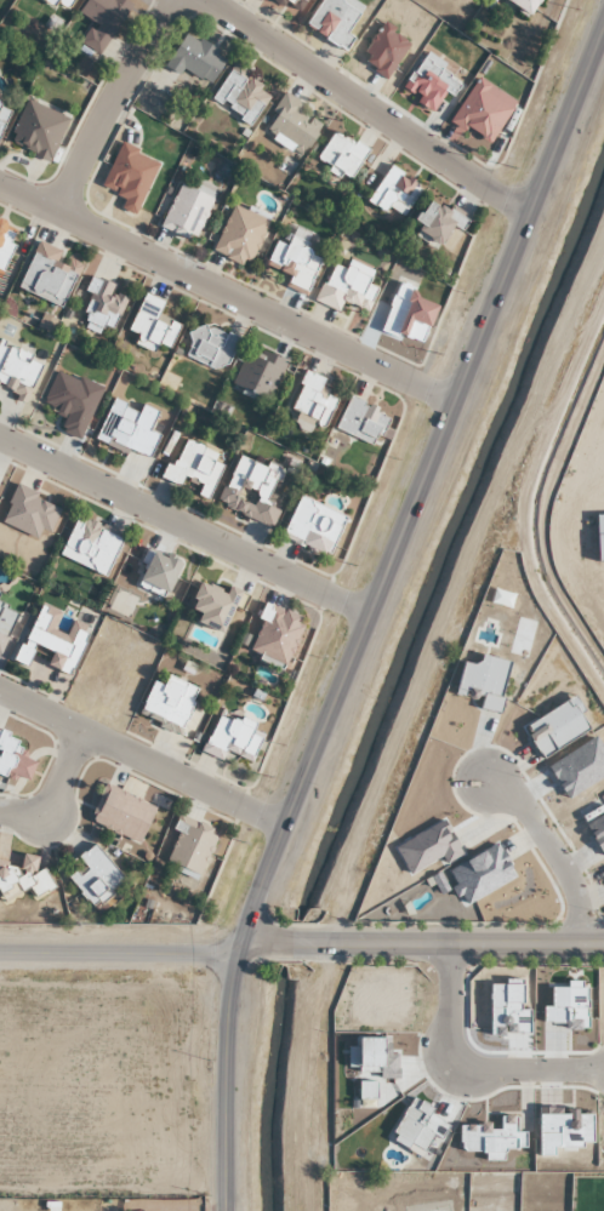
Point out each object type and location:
building: (291, 2)
building: (59, 4)
building: (519, 6)
building: (101, 21)
building: (334, 21)
building: (383, 51)
building: (194, 59)
building: (239, 95)
road: (97, 104)
road: (365, 104)
building: (480, 112)
building: (2, 115)
building: (289, 125)
building: (35, 131)
building: (340, 155)
building: (129, 177)
building: (393, 193)
building: (184, 212)
building: (435, 222)
building: (239, 236)
building: (6, 241)
building: (292, 264)
building: (47, 275)
building: (344, 286)
road: (228, 291)
building: (101, 304)
building: (408, 315)
building: (150, 325)
building: (209, 347)
building: (17, 367)
building: (257, 371)
building: (310, 398)
building: (69, 401)
building: (360, 421)
building: (194, 467)
building: (249, 490)
building: (29, 513)
road: (186, 522)
building: (312, 525)
building: (90, 545)
building: (156, 572)
building: (212, 606)
road: (376, 607)
building: (5, 622)
building: (274, 635)
building: (50, 641)
building: (167, 702)
building: (232, 738)
road: (141, 754)
building: (12, 759)
road: (53, 789)
building: (120, 815)
building: (187, 847)
road: (558, 851)
building: (95, 876)
building: (23, 880)
road: (256, 942)
road: (291, 942)
road: (457, 943)
road: (121, 952)
road: (473, 1067)

